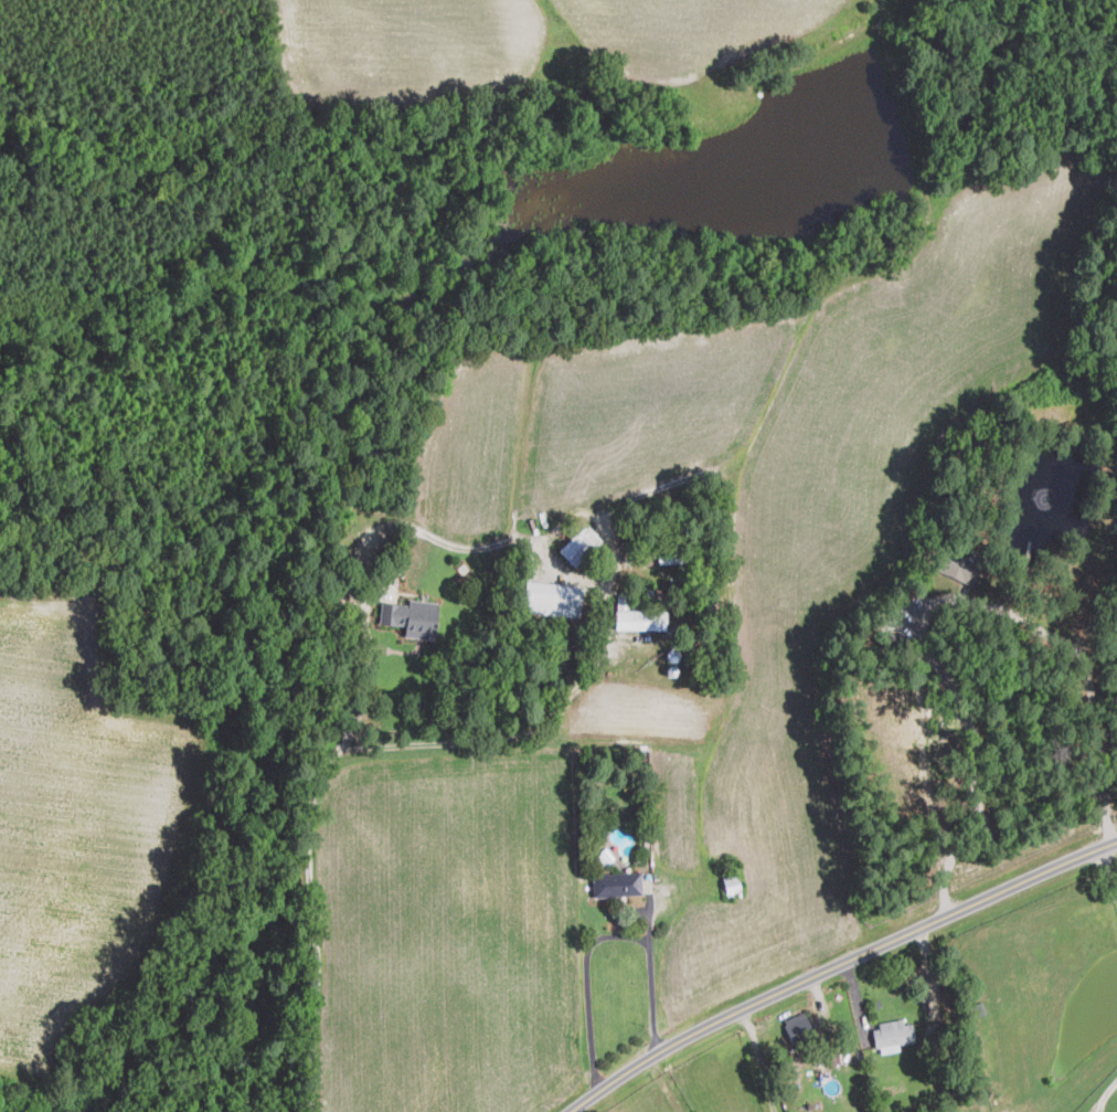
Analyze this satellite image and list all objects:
building: (581, 544)
road: (542, 557)
building: (959, 566)
road: (946, 597)
building: (553, 599)
building: (412, 617)
building: (641, 619)
road: (978, 758)
road: (1109, 867)
building: (615, 885)
building: (731, 888)
road: (316, 933)
road: (838, 964)
road: (650, 974)
road: (586, 987)
road: (927, 1020)
building: (798, 1029)
building: (892, 1032)
road: (664, 1084)
road: (1103, 1097)

